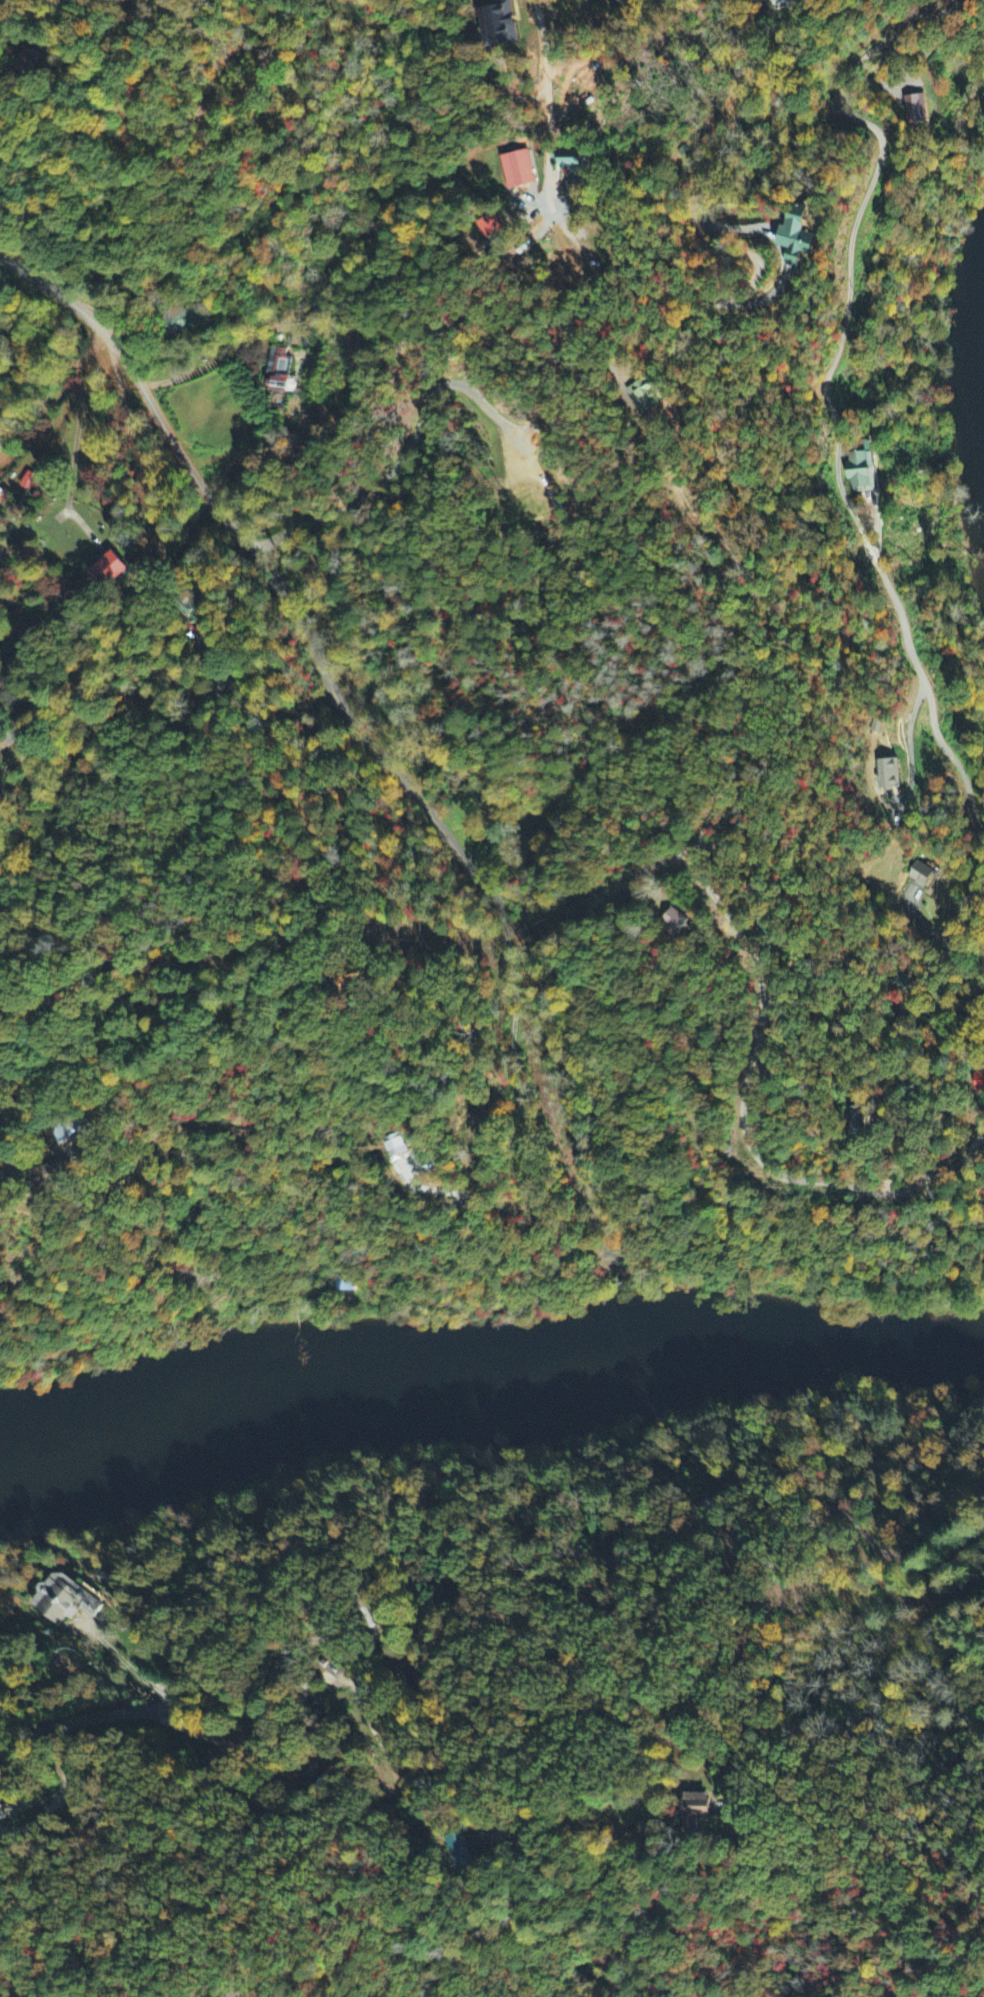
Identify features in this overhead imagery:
building: (779, 4)
road: (693, 12)
building: (498, 24)
road: (325, 46)
building: (28, 61)
building: (914, 110)
road: (65, 115)
building: (570, 166)
building: (516, 170)
building: (490, 227)
building: (795, 236)
road: (56, 293)
building: (186, 319)
building: (277, 370)
building: (644, 394)
road: (80, 418)
road: (724, 445)
road: (836, 450)
road: (41, 463)
building: (861, 472)
building: (25, 482)
road: (171, 495)
building: (104, 568)
road: (295, 609)
building: (10, 669)
building: (887, 774)
building: (919, 874)
road: (157, 894)
building: (674, 920)
building: (764, 923)
building: (978, 1082)
building: (856, 1121)
building: (65, 1131)
building: (396, 1146)
road: (11, 1167)
road: (770, 1169)
building: (46, 1175)
road: (9, 1281)
river: (808, 1345)
river: (313, 1388)
road: (478, 1593)
building: (66, 1595)
road: (351, 1679)
road: (665, 1736)
road: (539, 1775)
building: (694, 1806)
building: (1, 1808)
building: (0, 1819)
building: (457, 1852)

